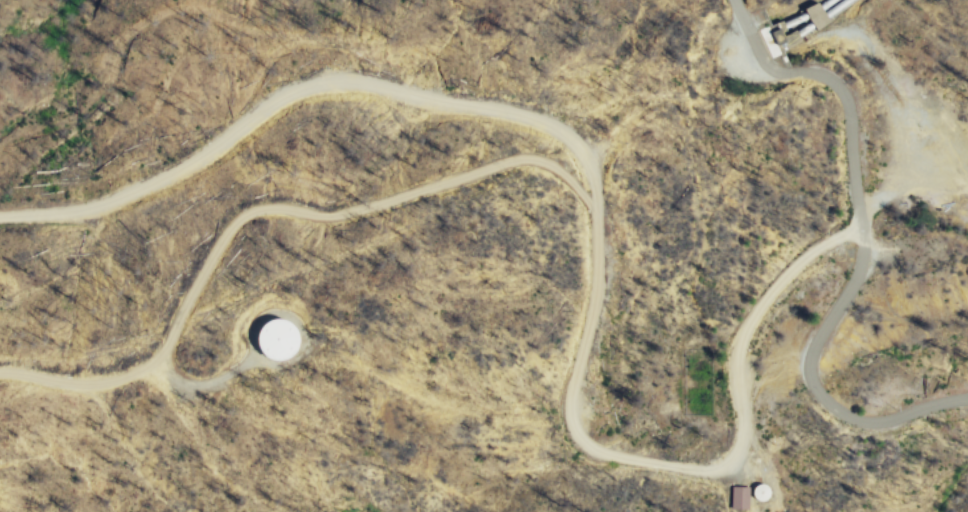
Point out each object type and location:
road: (844, 81)
road: (313, 89)
building: (284, 340)
road: (806, 383)
road: (687, 461)
building: (740, 497)

